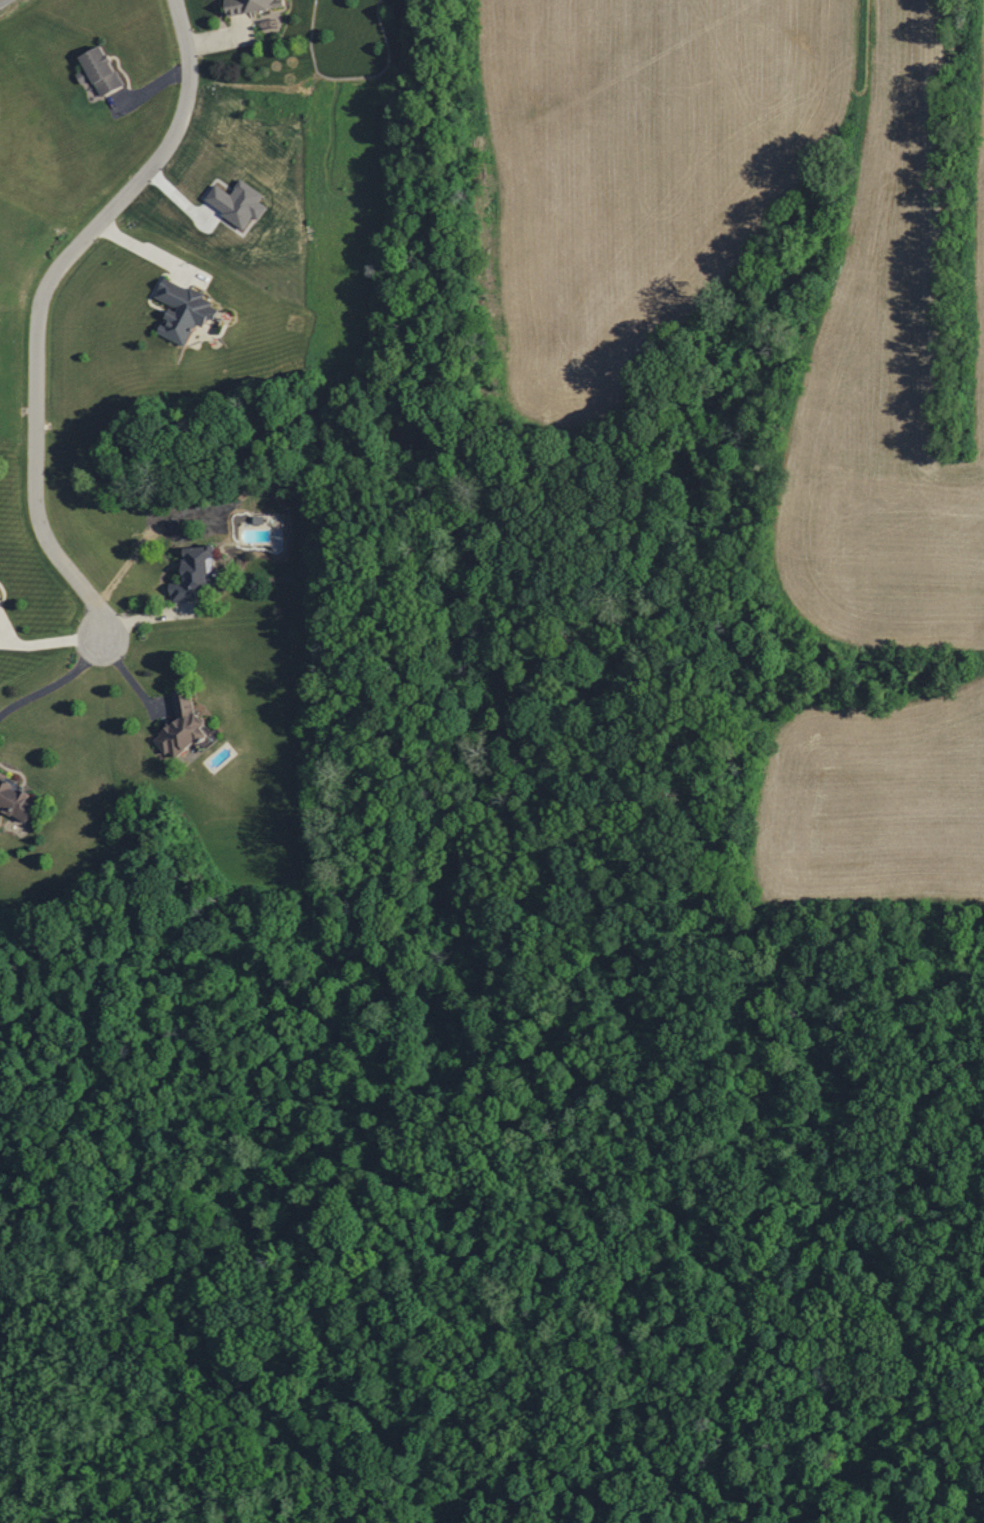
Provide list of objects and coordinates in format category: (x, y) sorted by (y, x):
road: (8, 4)
building: (103, 72)
building: (241, 203)
road: (38, 300)
building: (188, 312)
building: (187, 571)
building: (1, 596)
road: (49, 642)
road: (56, 682)
building: (10, 798)

